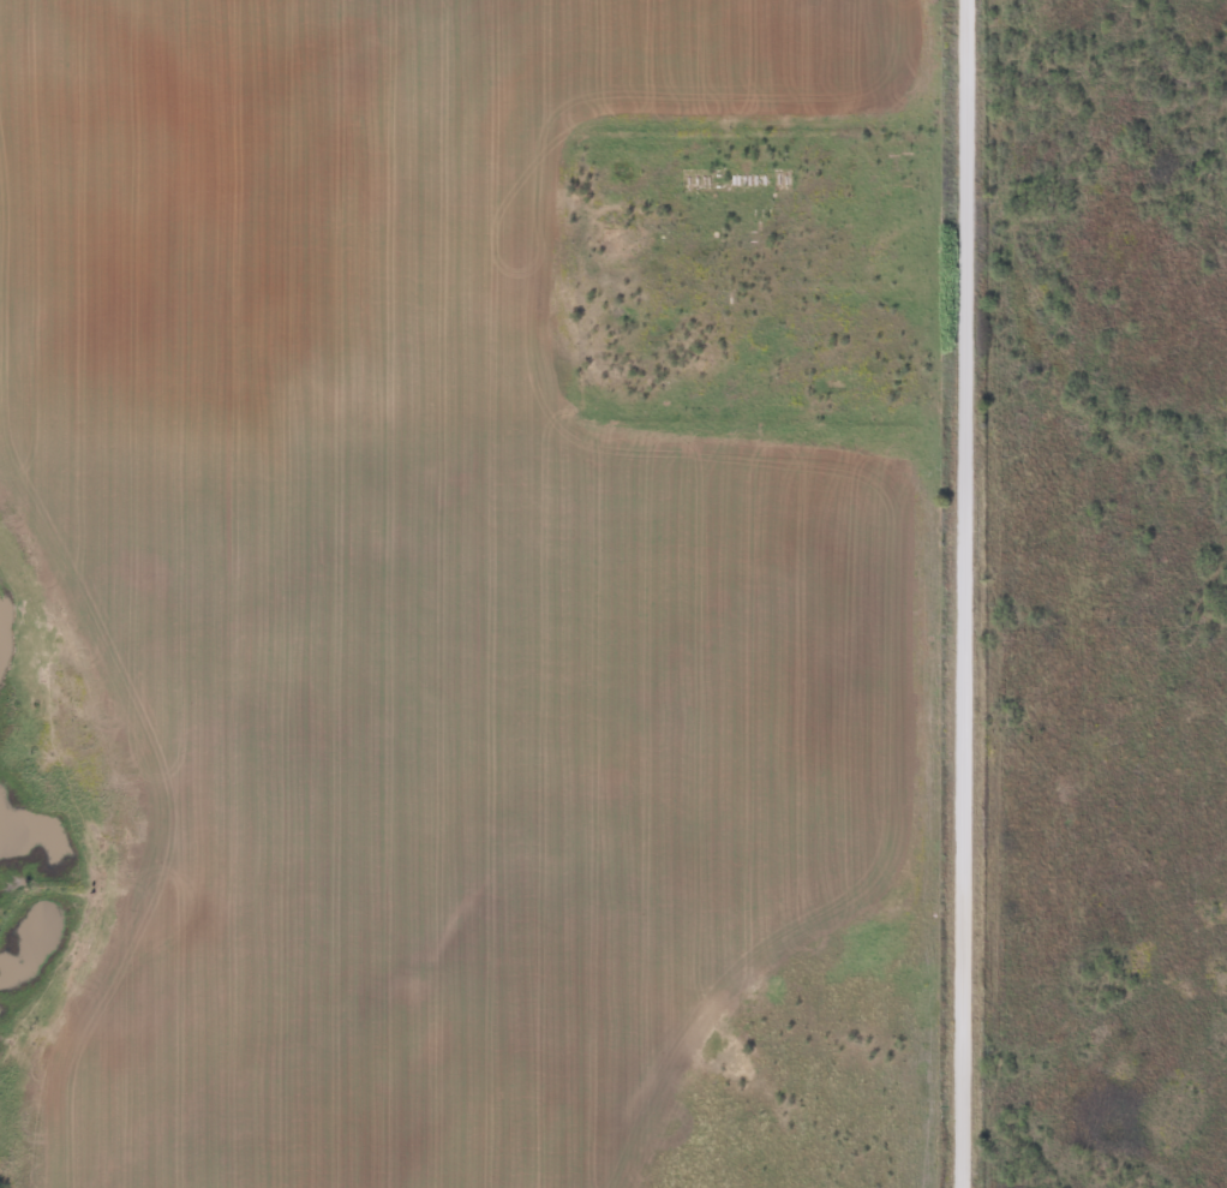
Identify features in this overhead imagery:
road: (969, 593)

